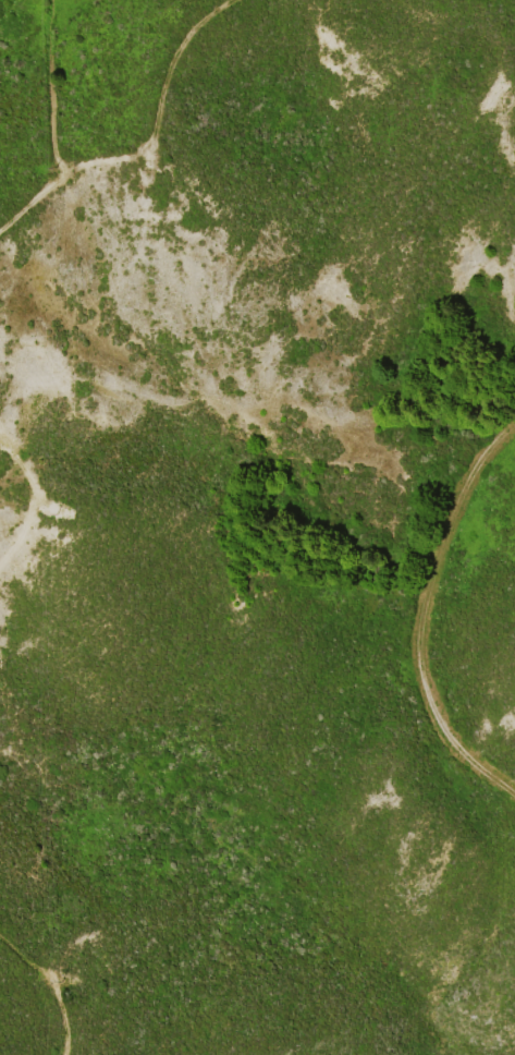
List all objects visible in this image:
road: (157, 102)
road: (51, 123)
road: (28, 492)
park: (24, 505)
road: (420, 616)
road: (49, 987)

